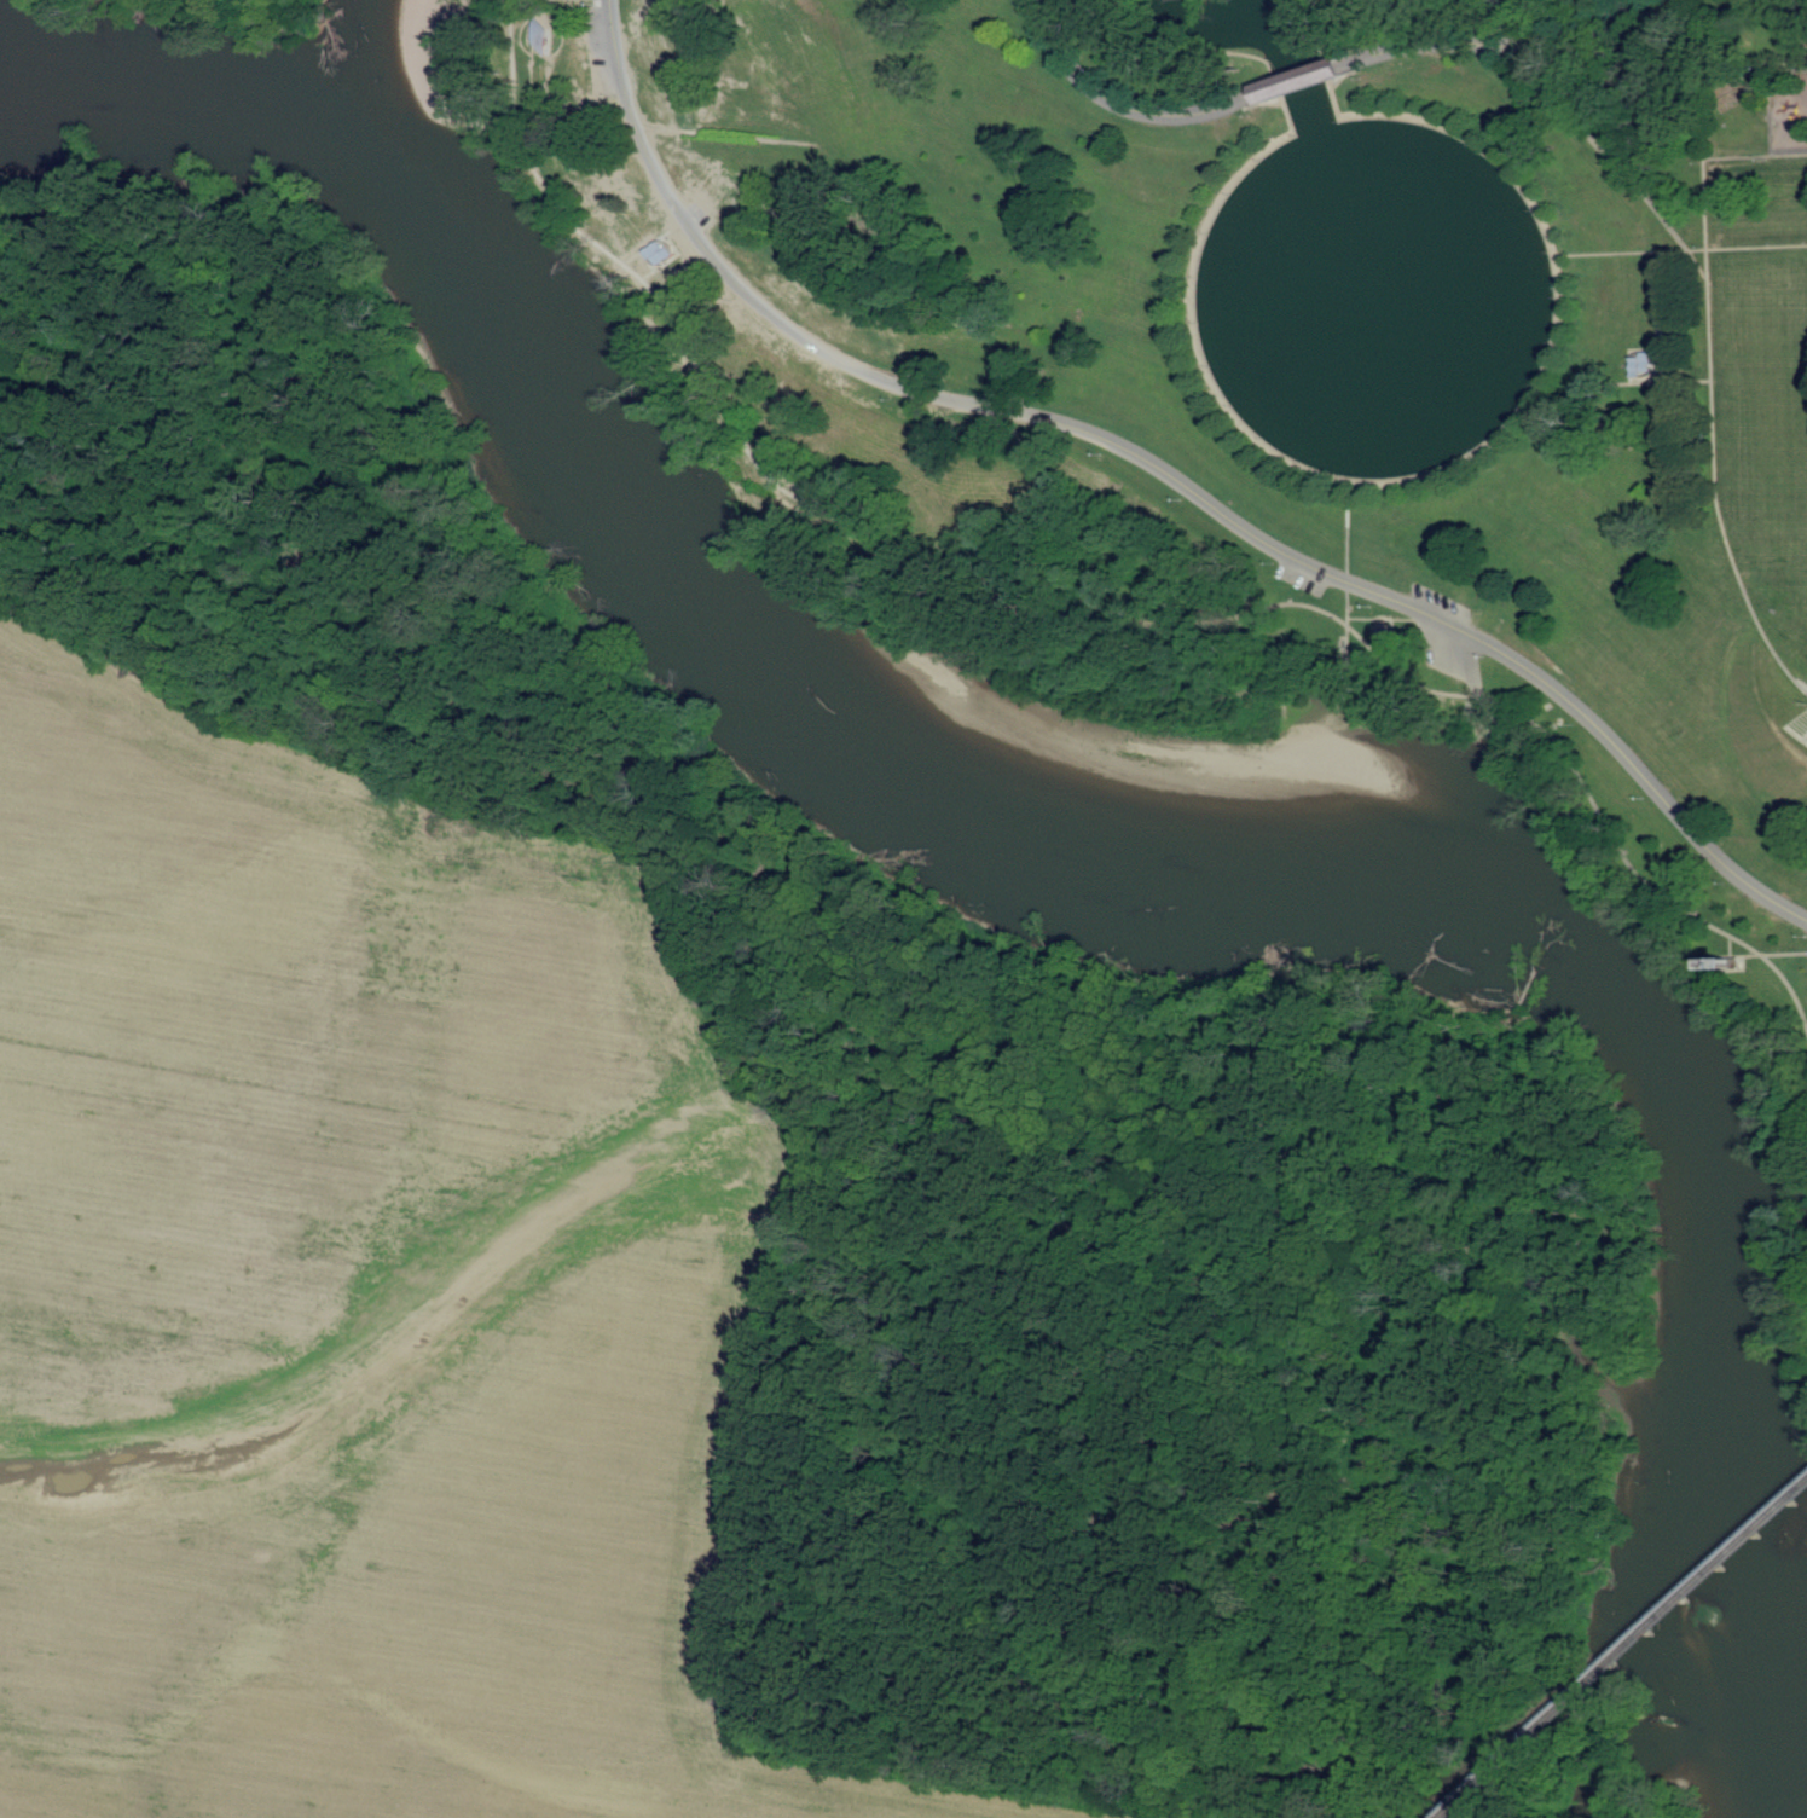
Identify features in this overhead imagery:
road: (1494, 44)
parking lot: (598, 46)
road: (1220, 48)
road: (1319, 51)
river: (400, 63)
road: (1305, 76)
building: (1308, 79)
road: (1699, 81)
road: (1767, 92)
road: (1124, 103)
river: (195, 105)
road: (1517, 125)
road: (1576, 126)
road: (653, 239)
road: (1681, 248)
building: (658, 250)
park: (1264, 354)
building: (1640, 363)
road: (1657, 380)
road: (1710, 384)
road: (1164, 470)
road: (1434, 471)
road: (1348, 552)
road: (1081, 620)
road: (1476, 683)
river: (1285, 807)
road: (1761, 954)
railway: (1657, 1620)
railway: (1472, 1787)

